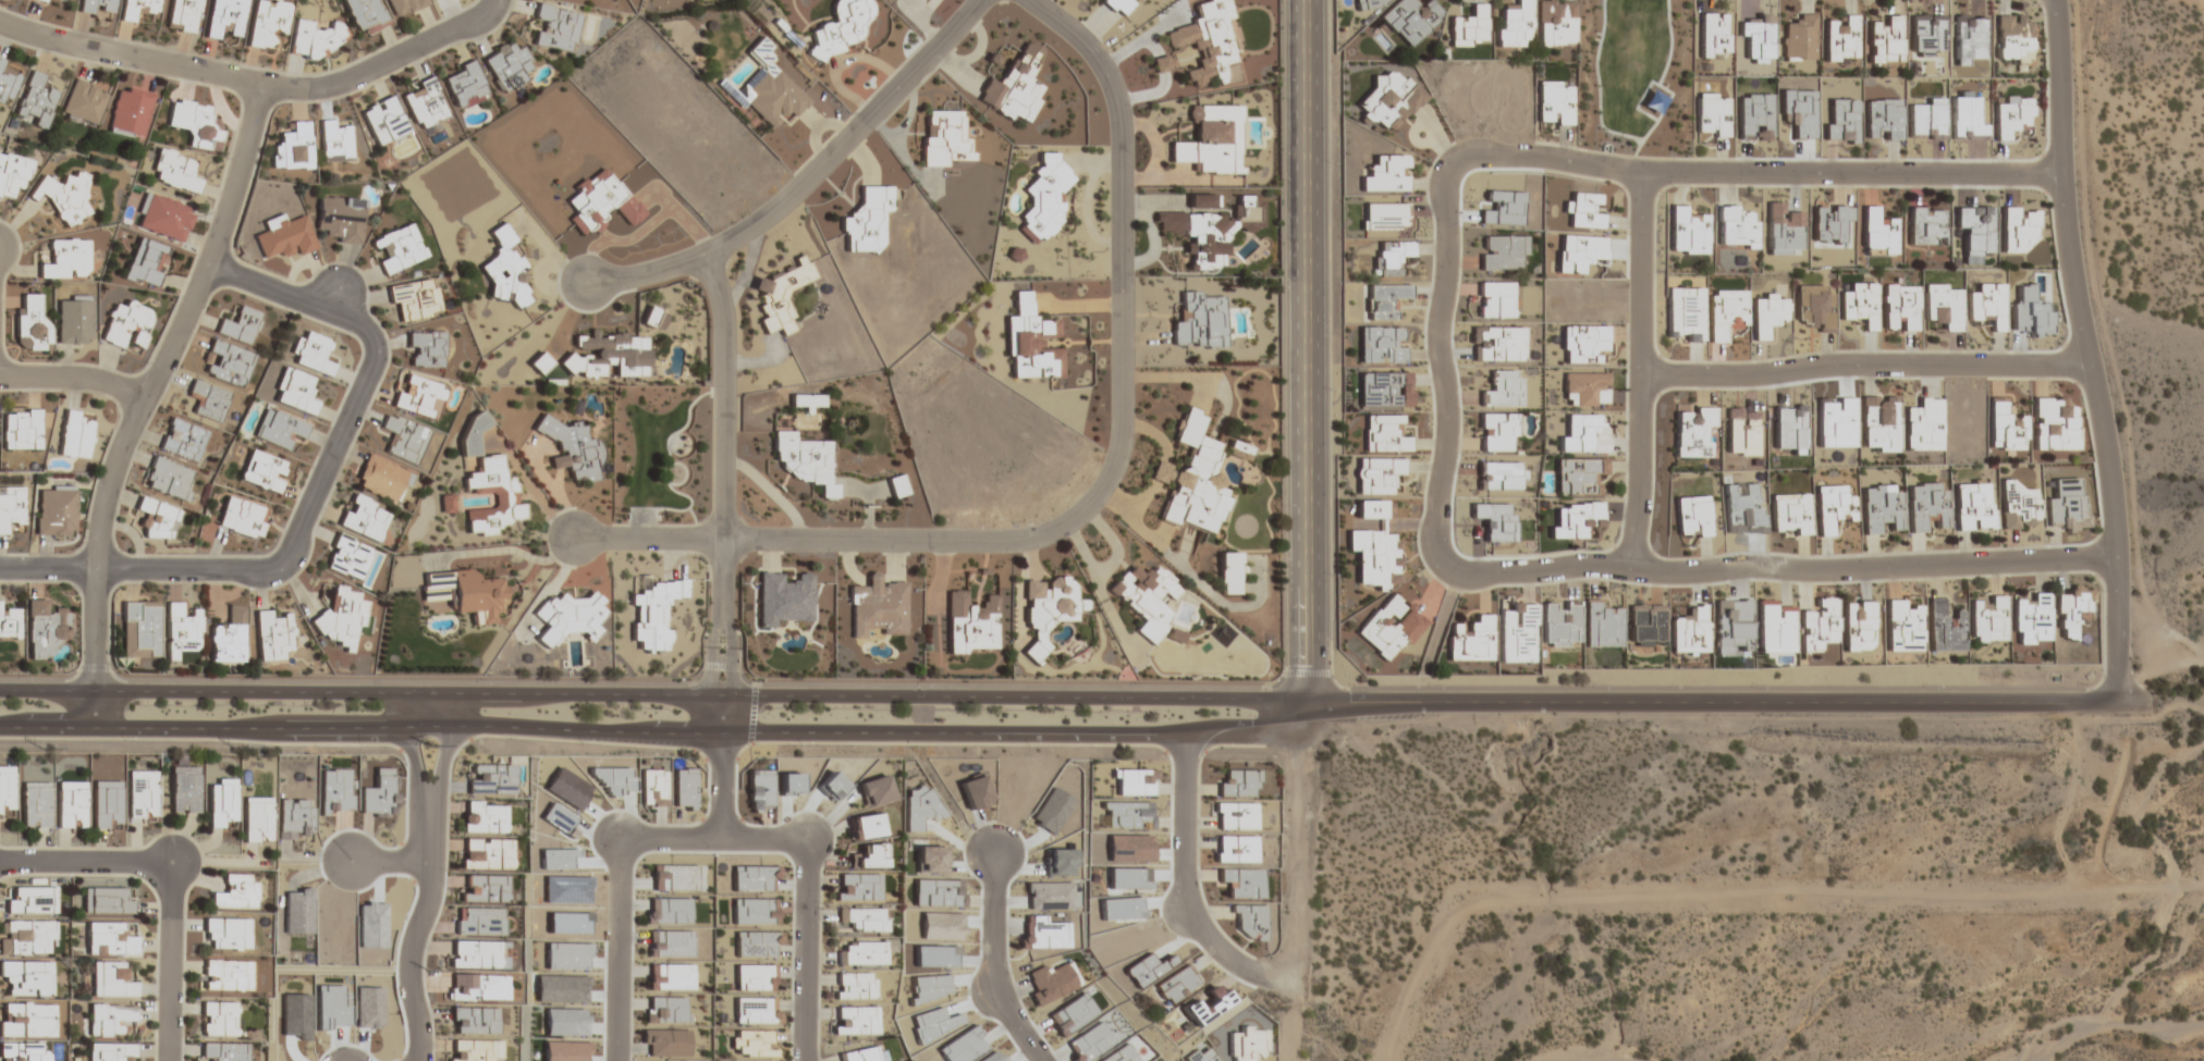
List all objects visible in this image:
building: (40, 0)
building: (70, 0)
building: (1374, 2)
building: (1113, 4)
building: (404, 7)
building: (96, 8)
building: (137, 9)
street lamp: (2041, 14)
building: (183, 15)
building: (365, 15)
building: (224, 17)
building: (1410, 20)
building: (266, 22)
building: (1555, 23)
building: (1514, 24)
building: (1468, 26)
building: (556, 27)
building: (841, 27)
building: (1714, 35)
building: (1800, 38)
building: (2013, 39)
building: (314, 40)
building: (1840, 40)
building: (1885, 40)
building: (1207, 41)
street lamp: (427, 58)
building: (1163, 63)
building: (507, 66)
street lamp: (121, 71)
park: (1640, 78)
street lamp: (1279, 79)
building: (8, 81)
road: (254, 81)
building: (464, 85)
building: (1015, 86)
building: (770, 89)
building: (1388, 99)
building: (36, 101)
building: (83, 102)
building: (1554, 102)
building: (425, 104)
street lamp: (1134, 107)
building: (130, 112)
street lamp: (849, 113)
building: (1712, 115)
building: (2011, 115)
building: (1883, 119)
building: (383, 121)
building: (195, 124)
street lamp: (1611, 135)
building: (944, 138)
building: (1212, 140)
building: (334, 141)
building: (293, 148)
street lamp: (1862, 157)
street lamp: (1431, 162)
street lamp: (1331, 163)
building: (175, 172)
building: (12, 174)
building: (1386, 174)
road: (806, 178)
street lamp: (1674, 187)
building: (64, 196)
building: (1044, 198)
building: (1202, 200)
building: (600, 201)
street lamp: (2048, 205)
building: (1584, 210)
building: (1384, 215)
building: (164, 219)
building: (340, 219)
building: (867, 220)
building: (1830, 223)
building: (1926, 225)
building: (1736, 229)
building: (2018, 229)
street lamp: (712, 231)
building: (1211, 231)
building: (1784, 231)
building: (1687, 232)
building: (1877, 234)
building: (283, 237)
building: (399, 248)
building: (1502, 251)
building: (66, 260)
building: (1389, 260)
building: (145, 262)
building: (506, 273)
street lamp: (1279, 276)
building: (780, 295)
building: (1495, 299)
building: (415, 300)
street lamp: (560, 300)
building: (1384, 300)
building: (1860, 305)
building: (1988, 305)
building: (1814, 306)
building: (1944, 306)
building: (1901, 308)
building: (1727, 312)
building: (1767, 312)
street lamp: (290, 313)
building: (1685, 314)
building: (653, 318)
building: (74, 321)
building: (1200, 321)
building: (30, 324)
building: (126, 325)
building: (241, 325)
street lamp: (2066, 329)
building: (1031, 343)
building: (1584, 343)
building: (1496, 344)
building: (1382, 345)
road: (2086, 348)
building: (426, 349)
street lamp: (1837, 349)
road: (1306, 350)
building: (311, 354)
building: (607, 355)
building: (226, 363)
building: (540, 363)
road: (1864, 365)
street lamp: (1625, 367)
road: (1640, 370)
road: (74, 377)
street lamp: (1765, 388)
building: (1384, 390)
building: (1585, 390)
building: (295, 391)
street lamp: (1332, 391)
road: (1445, 395)
road: (144, 397)
building: (418, 397)
building: (208, 399)
building: (808, 400)
street lamp: (1461, 410)
building: (1878, 423)
building: (2053, 424)
building: (1922, 425)
street lamp: (328, 427)
building: (2005, 427)
building: (21, 429)
building: (279, 429)
building: (1692, 431)
building: (1497, 432)
building: (1741, 432)
building: (473, 434)
building: (1384, 434)
building: (1584, 434)
building: (75, 435)
building: (403, 439)
building: (182, 440)
building: (571, 447)
building: (1237, 449)
street lamp: (1130, 459)
building: (804, 460)
building: (262, 470)
building: (1377, 476)
building: (1578, 476)
building: (168, 479)
building: (381, 479)
building: (1192, 479)
building: (897, 486)
building: (504, 494)
road: (1097, 495)
road: (311, 496)
street lamp: (1281, 505)
building: (1927, 506)
building: (1974, 506)
building: (2018, 506)
building: (11, 508)
building: (1833, 508)
building: (1882, 508)
building: (1374, 509)
building: (56, 511)
building: (1790, 515)
building: (1692, 517)
building: (242, 518)
building: (364, 518)
street lamp: (701, 518)
building: (157, 520)
building: (1576, 520)
road: (722, 545)
street lamp: (259, 554)
street lamp: (834, 555)
street lamp: (1012, 556)
building: (347, 557)
building: (1373, 557)
street lamp: (1423, 568)
building: (1228, 573)
street lamp: (1333, 576)
street lamp: (1625, 584)
street lamp: (1838, 585)
street lamp: (2102, 591)
building: (467, 594)
building: (784, 597)
building: (1146, 599)
building: (877, 608)
building: (1049, 609)
building: (2070, 612)
building: (654, 613)
building: (341, 617)
building: (568, 618)
building: (1987, 618)
building: (2031, 620)
building: (971, 624)
building: (9, 625)
building: (1560, 625)
building: (1602, 626)
building: (1645, 626)
building: (1816, 626)
building: (1857, 626)
building: (1901, 626)
building: (1774, 627)
building: (1943, 627)
building: (1389, 628)
building: (42, 629)
building: (181, 629)
building: (139, 630)
building: (1689, 631)
building: (1518, 633)
building: (272, 636)
building: (229, 638)
street lamp: (722, 638)
building: (1471, 640)
street lamp: (23, 676)
street lamp: (247, 677)
street lamp: (481, 679)
street lamp: (681, 679)
street lamp: (922, 682)
street lamp: (1135, 683)
street lamp: (1433, 684)
street lamp: (1597, 684)
street lamp: (1755, 684)
street lamp: (1927, 684)
street lamp: (2082, 684)
road: (653, 694)
road: (1709, 702)
road: (661, 737)
street lamp: (125, 741)
street lamp: (581, 743)
street lamp: (801, 745)
street lamp: (362, 747)
street lamp: (1028, 747)
power tower: (417, 748)
street lamp: (1221, 748)
power tower: (40, 749)
power tower: (235, 749)
building: (491, 780)
building: (1136, 782)
building: (1239, 785)
building: (654, 788)
building: (684, 790)
building: (184, 791)
building: (5, 792)
building: (142, 794)
building: (106, 804)
building: (221, 804)
building: (70, 805)
building: (35, 806)
building: (1234, 816)
building: (483, 818)
building: (256, 821)
building: (867, 827)
road: (711, 840)
building: (1235, 849)
building: (486, 854)
building: (871, 858)
road: (385, 869)
road: (171, 878)
road: (424, 878)
building: (1242, 883)
building: (858, 887)
building: (235, 893)
road: (1179, 896)
building: (29, 902)
building: (106, 902)
building: (755, 913)
building: (864, 920)
building: (1249, 922)
building: (228, 933)
building: (1044, 934)
building: (25, 939)
building: (110, 939)
building: (755, 946)
building: (862, 953)
road: (991, 966)
power tower: (419, 970)
building: (225, 975)
building: (26, 978)
building: (754, 979)
building: (111, 980)
building: (1053, 982)
building: (1175, 985)
building: (854, 986)
building: (755, 1011)
building: (110, 1020)
building: (218, 1020)
building: (26, 1021)
building: (474, 1021)
building: (855, 1021)
building: (751, 1044)
building: (1249, 1044)
building: (475, 1050)
building: (24, 1051)
building: (111, 1051)
building: (223, 1051)
building: (861, 1054)

